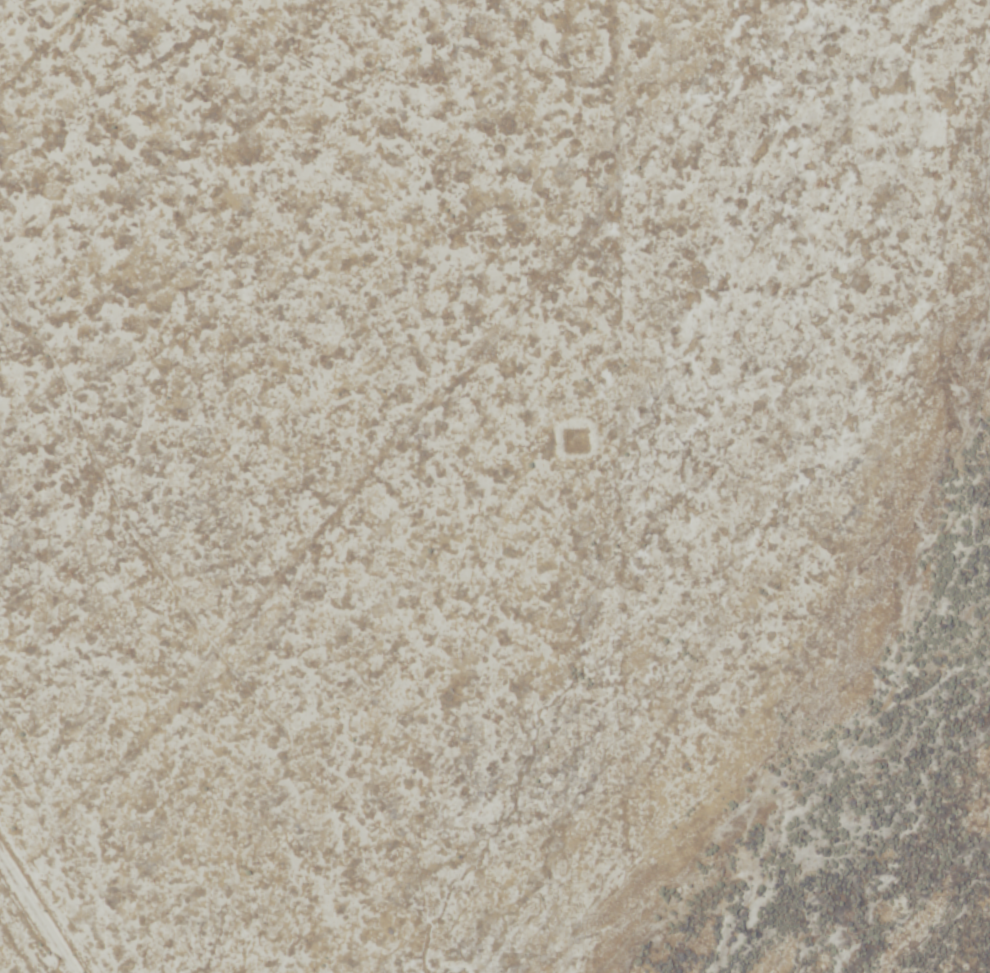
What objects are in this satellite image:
road: (25, 932)

